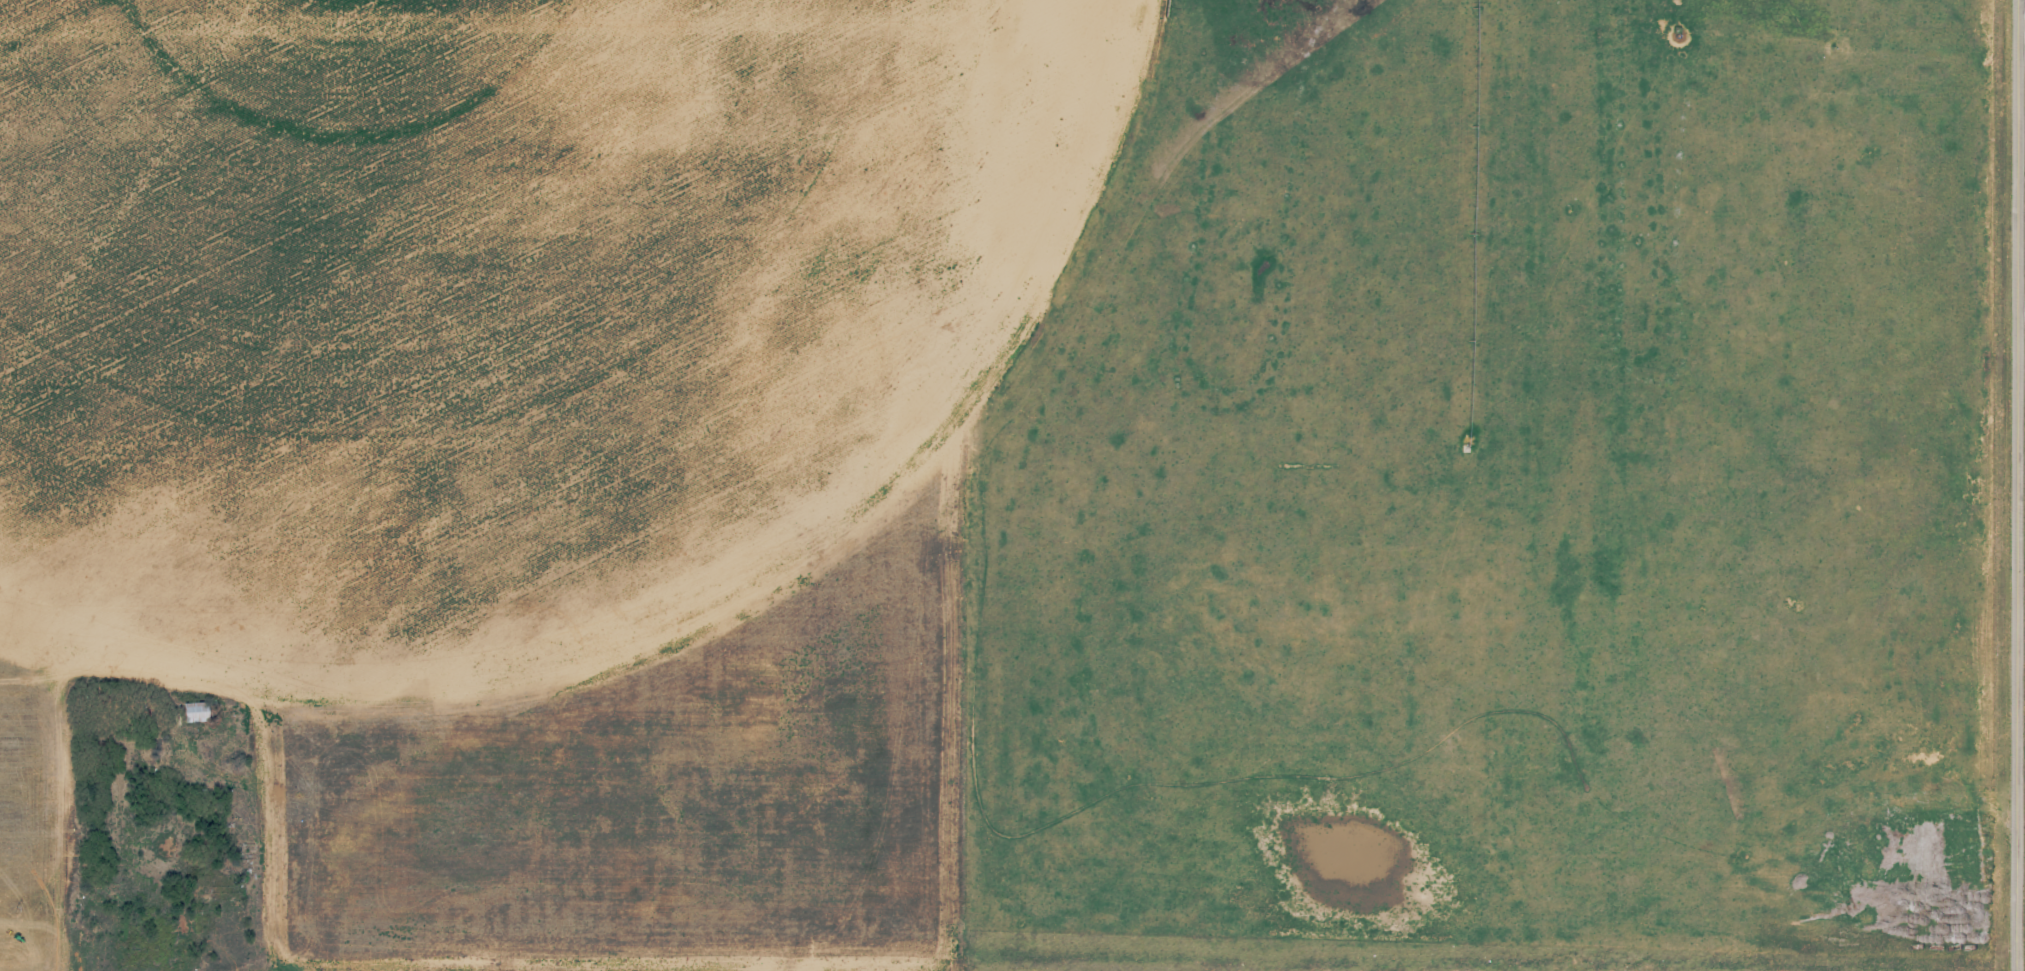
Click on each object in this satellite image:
road: (2019, 485)
building: (196, 711)

